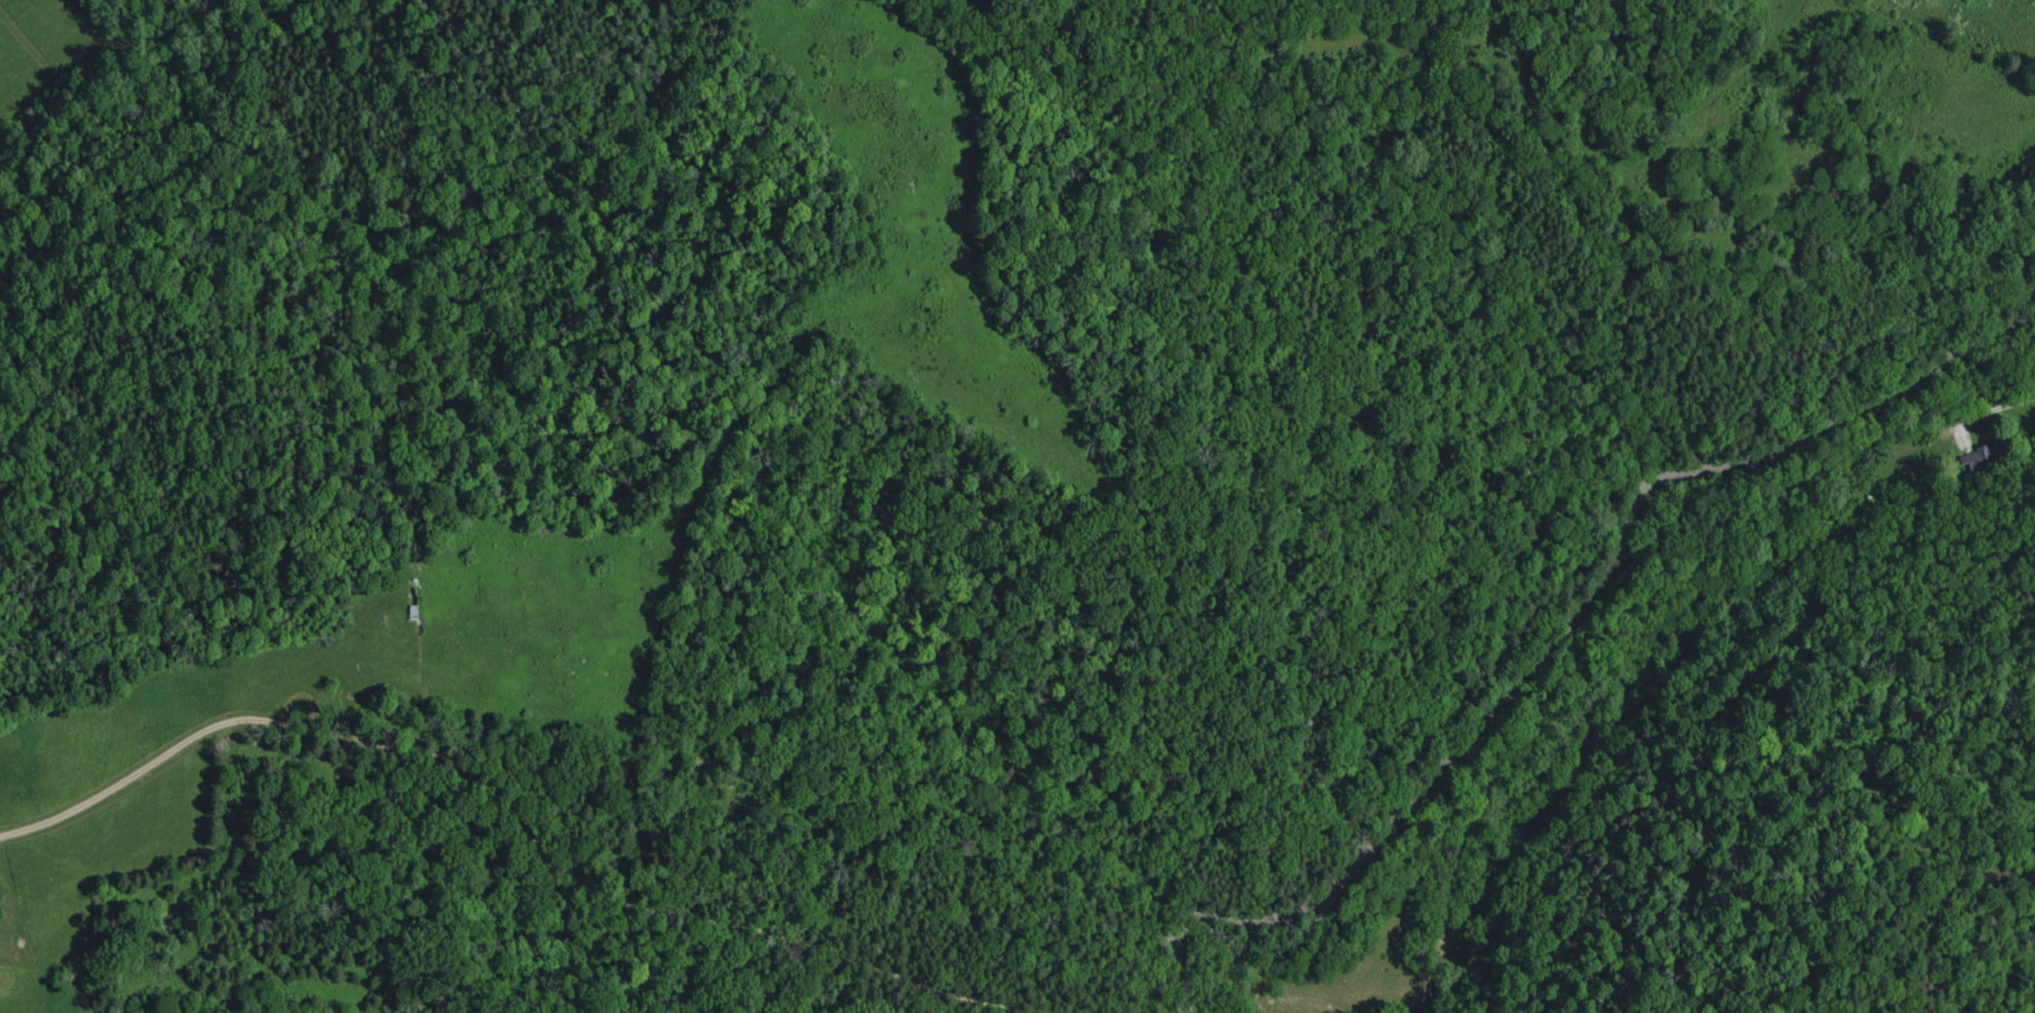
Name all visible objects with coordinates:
road: (2014, 404)
road: (1599, 595)
road: (508, 818)
road: (1261, 1010)

